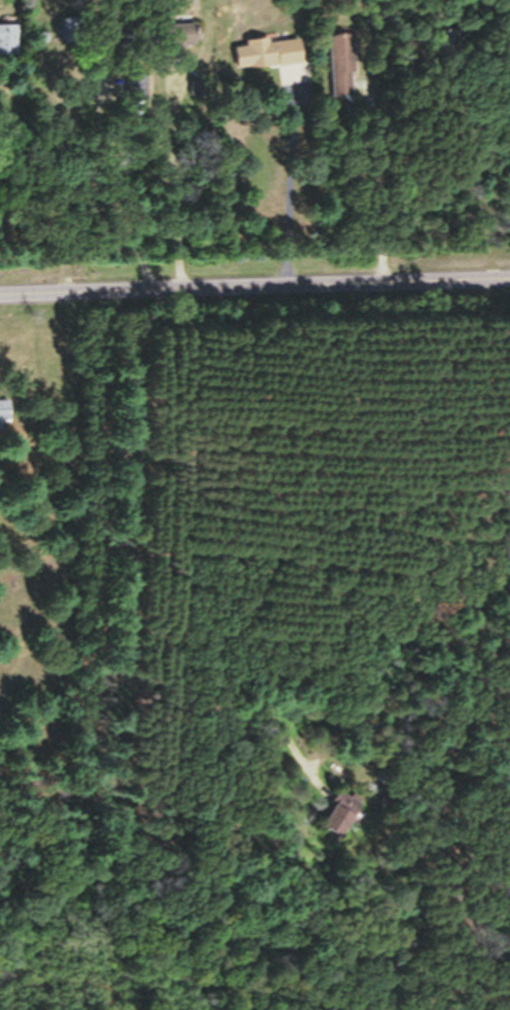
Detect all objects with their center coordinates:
building: (10, 48)
building: (286, 59)
road: (110, 174)
road: (285, 192)
road: (254, 286)
building: (3, 421)
building: (351, 823)

